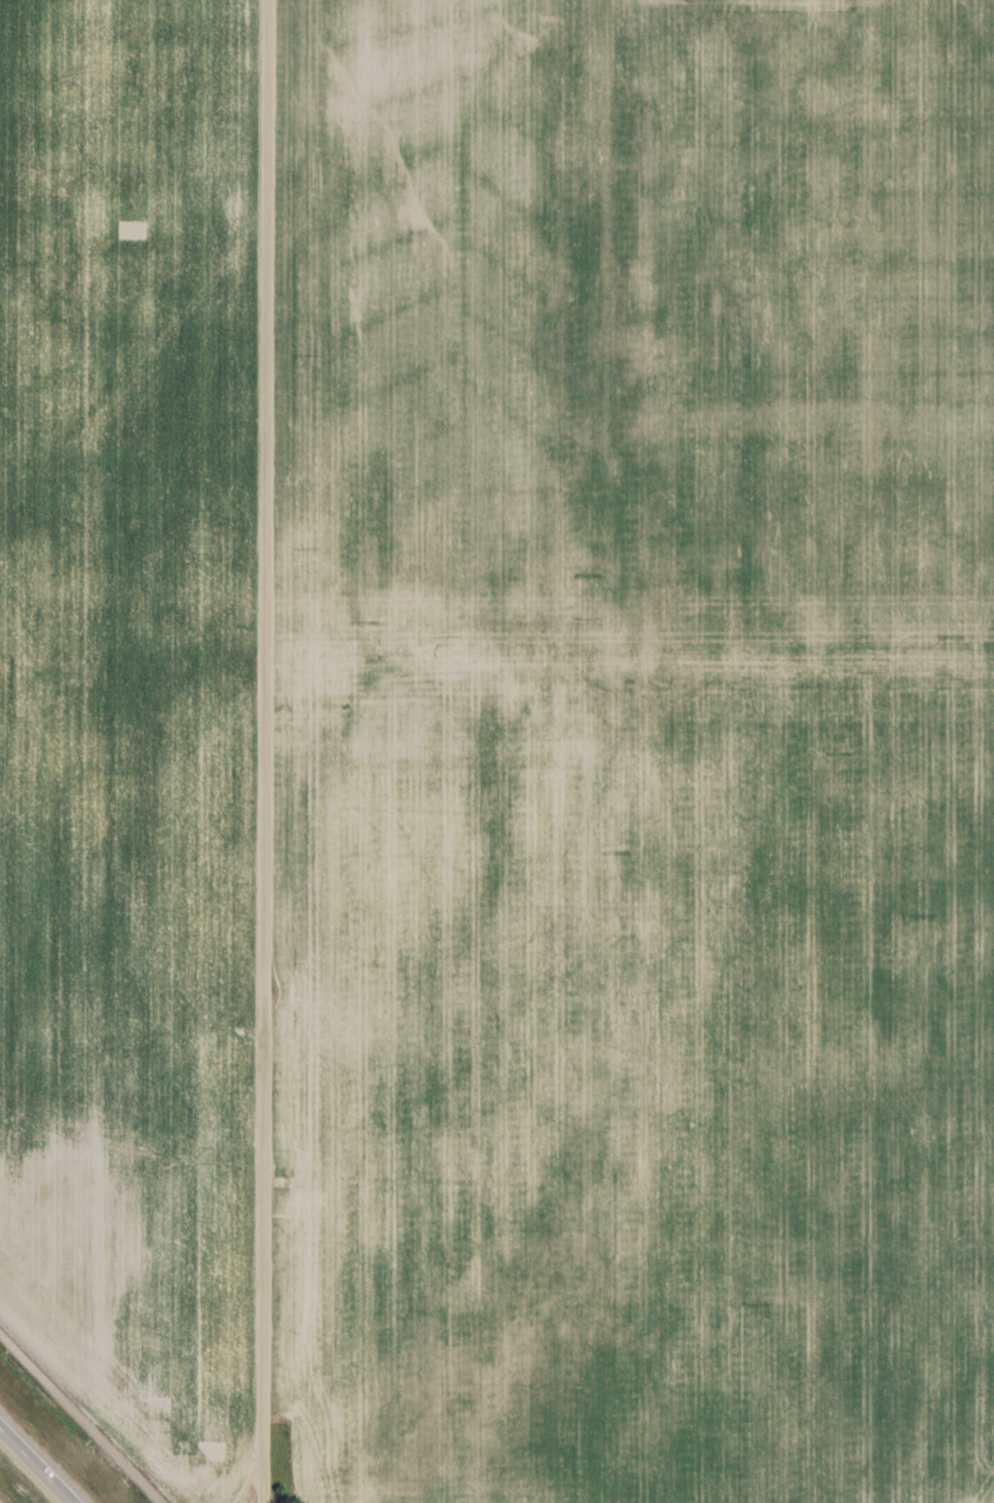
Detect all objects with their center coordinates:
road: (268, 751)
road: (80, 1416)
road: (37, 1463)

